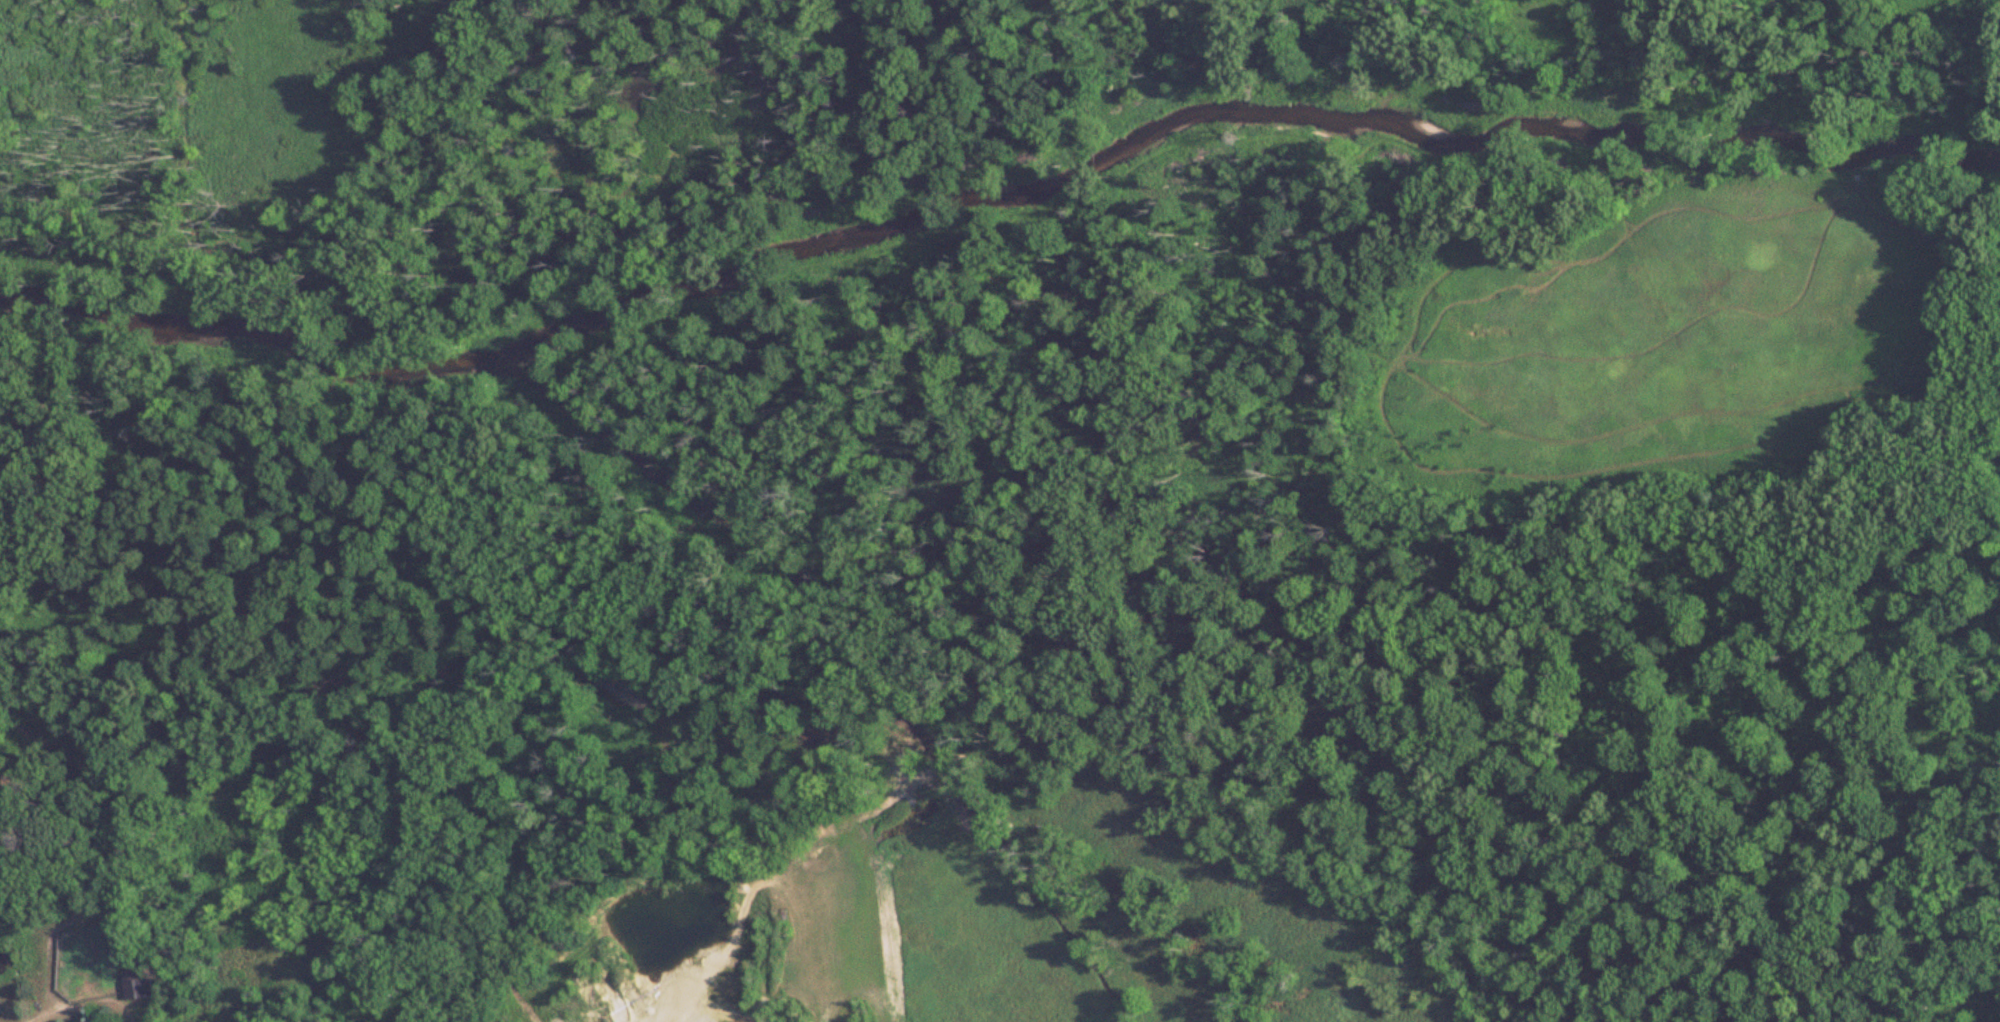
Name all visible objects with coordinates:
river: (1030, 187)
building: (139, 983)
road: (80, 1000)

